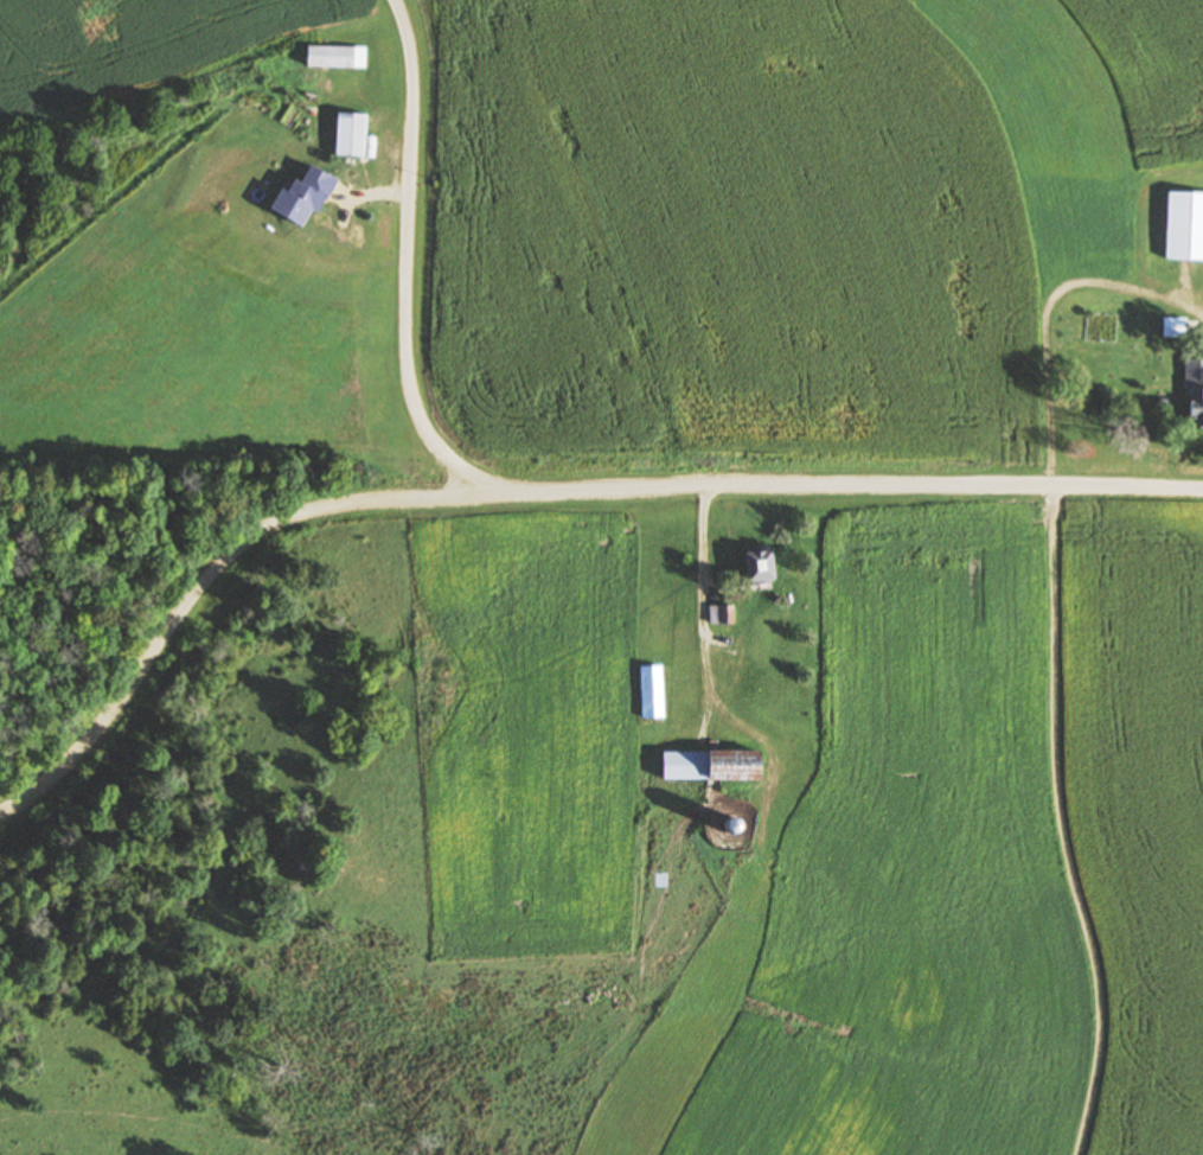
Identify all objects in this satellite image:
building: (335, 57)
building: (350, 136)
crop: (775, 223)
building: (1185, 226)
road: (407, 254)
building: (1192, 391)
road: (533, 487)
building: (757, 564)
road: (1050, 649)
road: (704, 662)
building: (653, 694)
building: (736, 764)
building: (687, 766)
silo: (729, 824)

